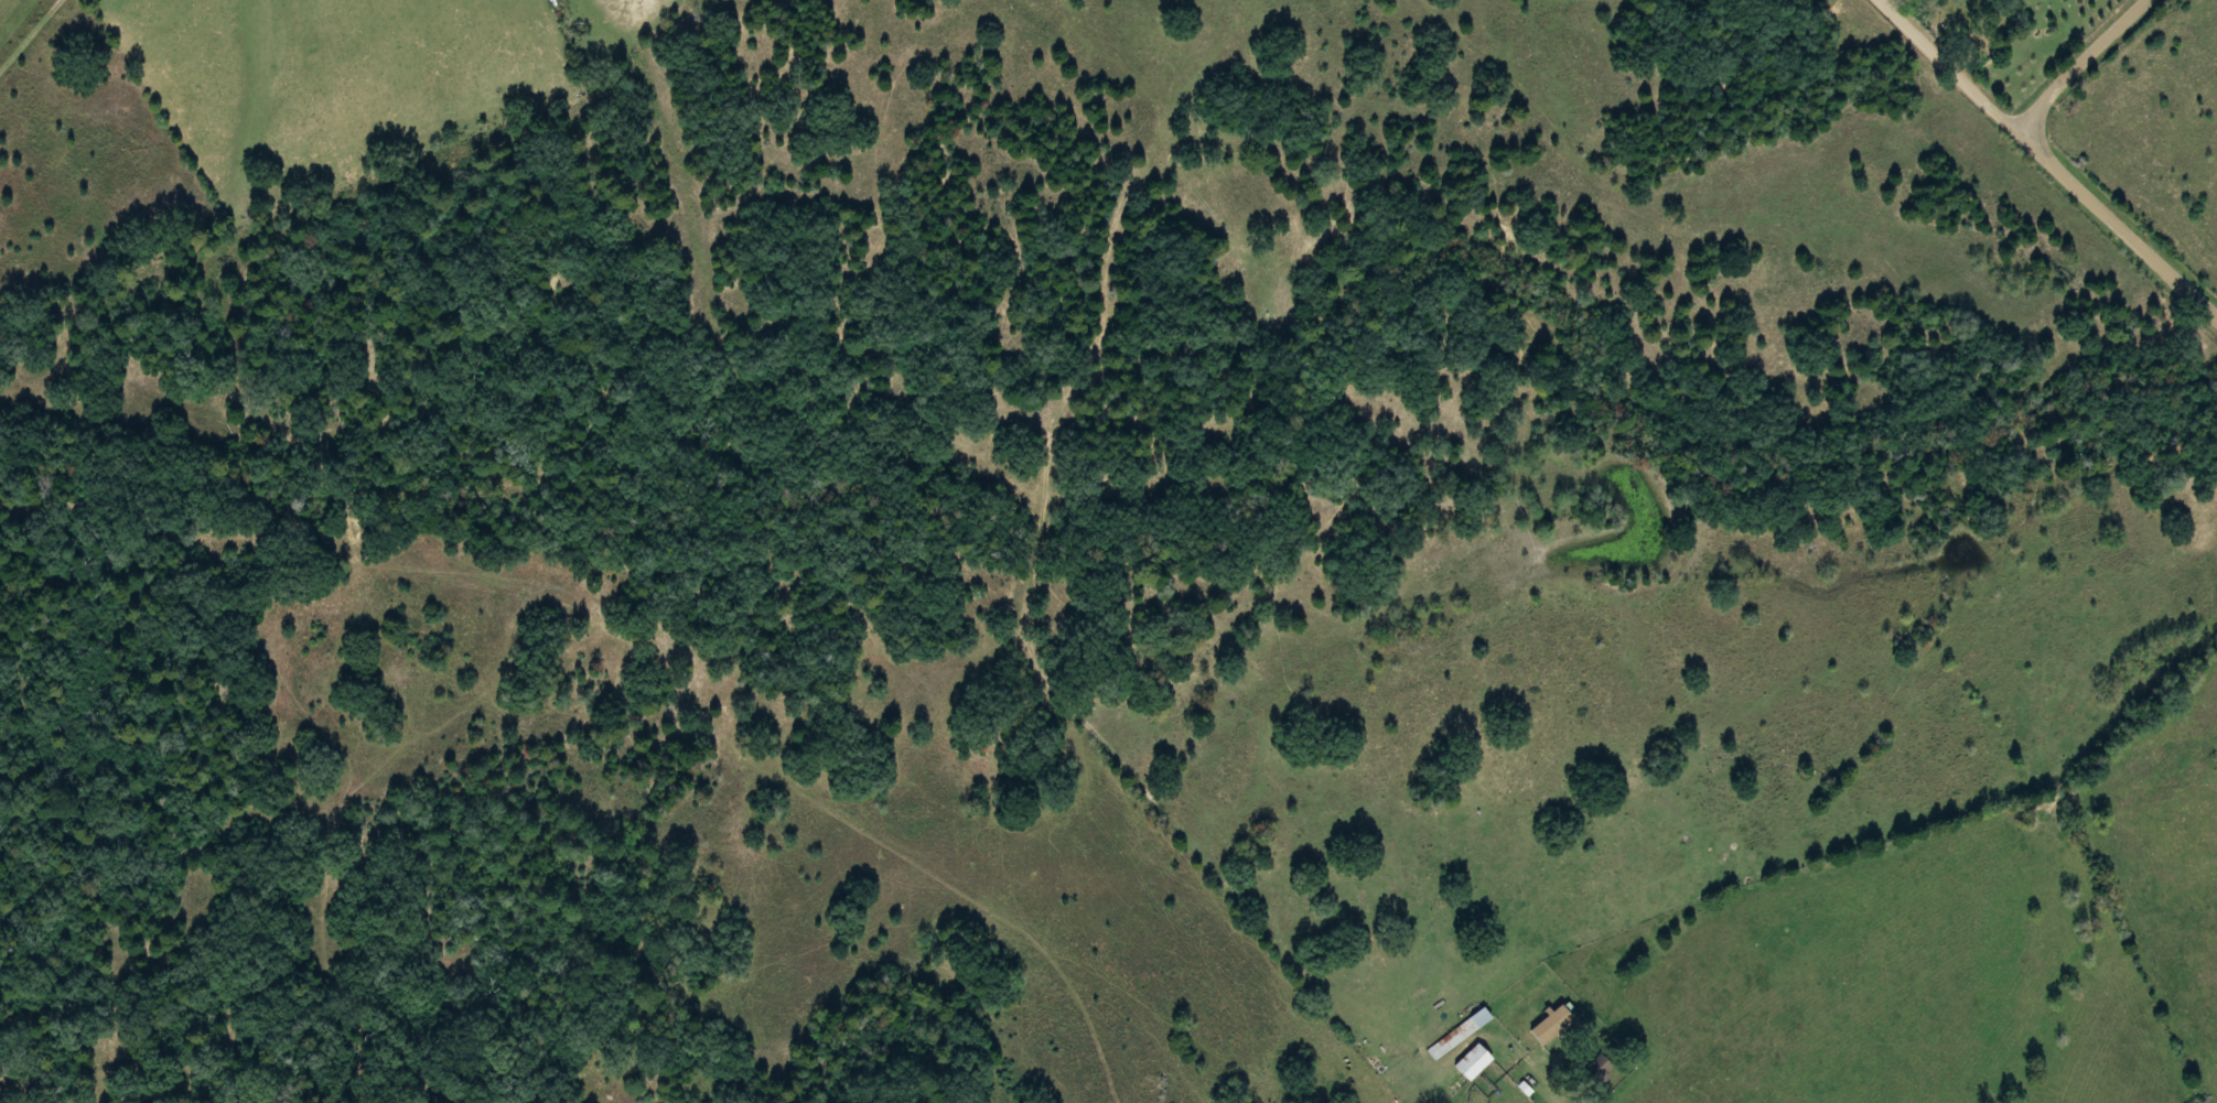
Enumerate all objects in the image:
road: (37, 23)
road: (2081, 64)
road: (1948, 65)
road: (2117, 219)
building: (1456, 1034)
building: (1470, 1062)
building: (1595, 1070)
road: (1496, 1099)

